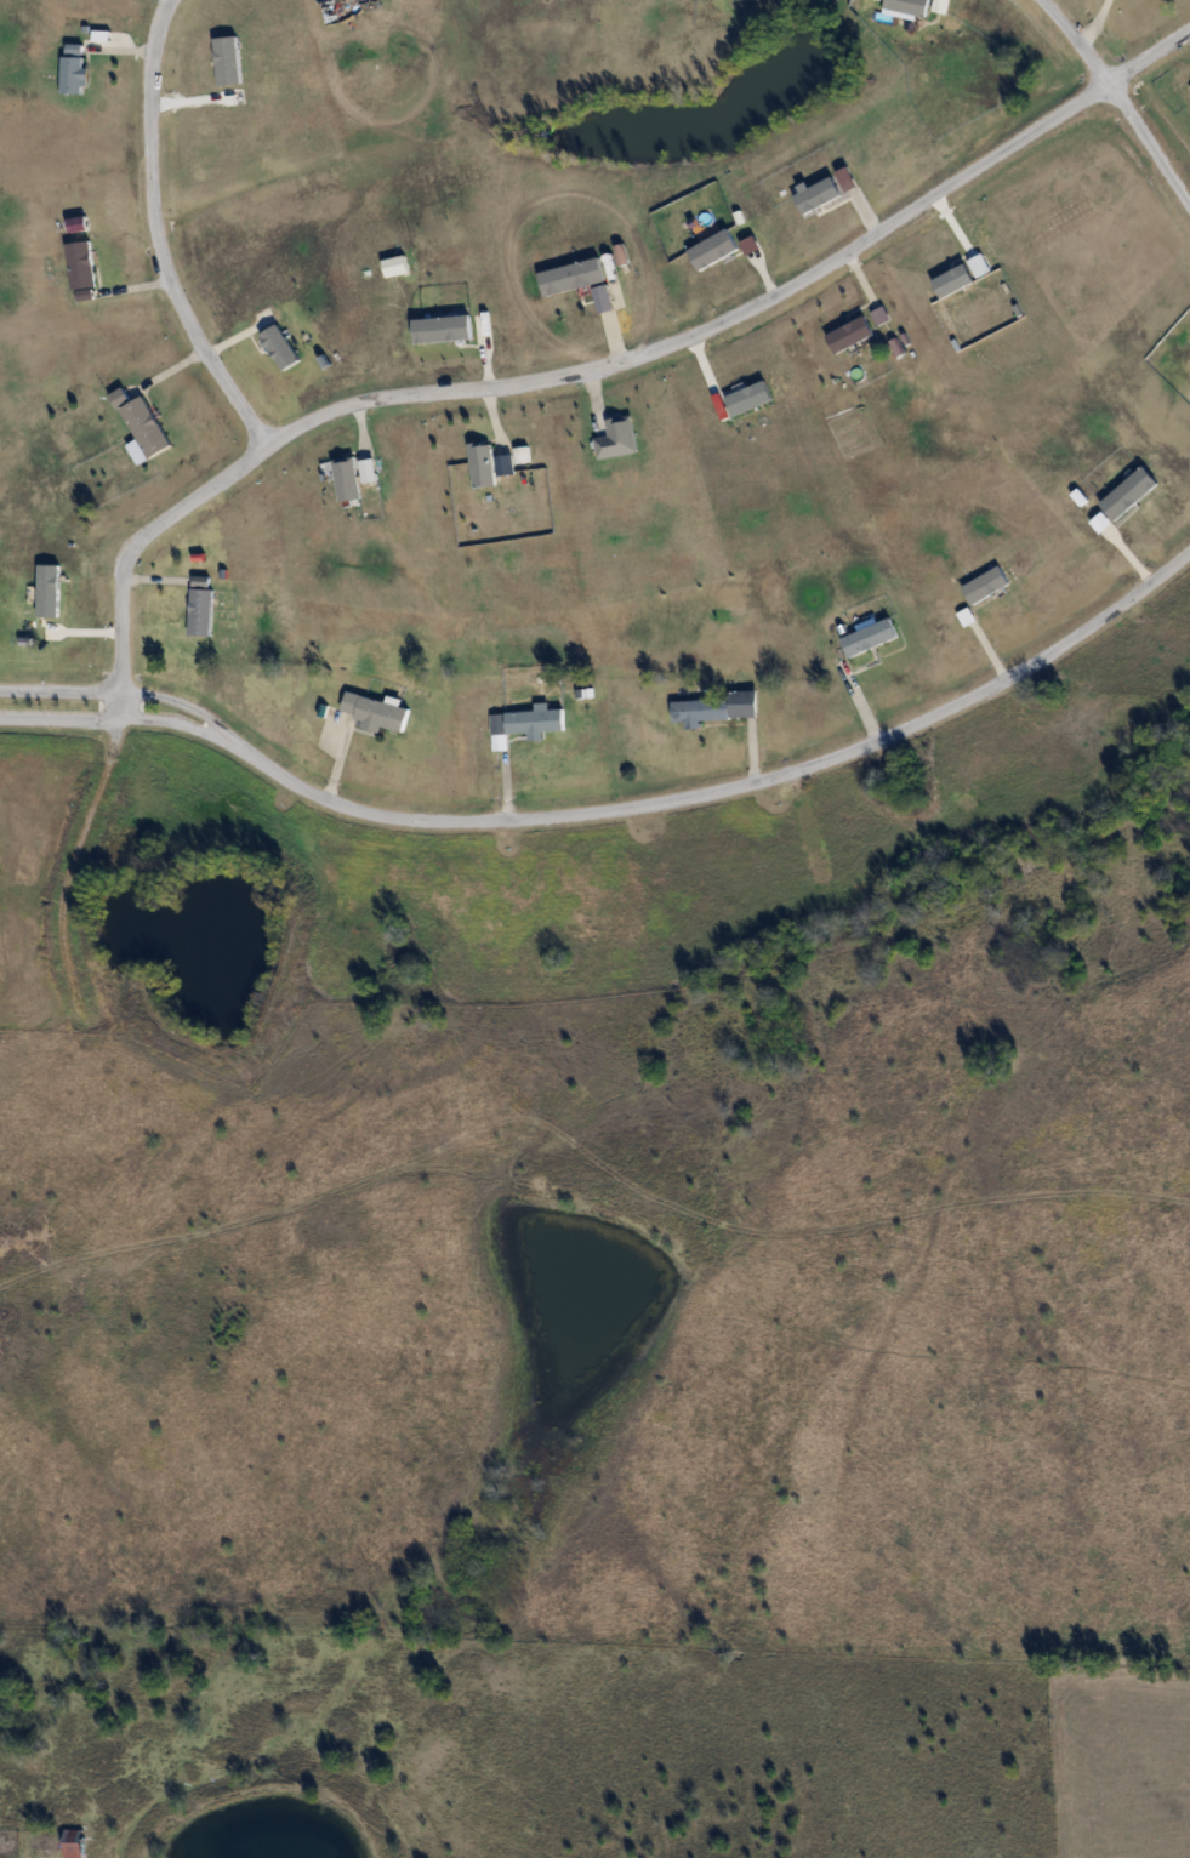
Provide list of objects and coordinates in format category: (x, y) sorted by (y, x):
building: (97, 41)
building: (73, 69)
road: (1120, 102)
road: (155, 235)
building: (81, 264)
road: (449, 394)
building: (143, 422)
building: (619, 438)
building: (494, 462)
building: (348, 478)
building: (203, 605)
building: (870, 637)
building: (718, 707)
building: (377, 711)
building: (528, 722)
road: (613, 809)
building: (73, 1843)

